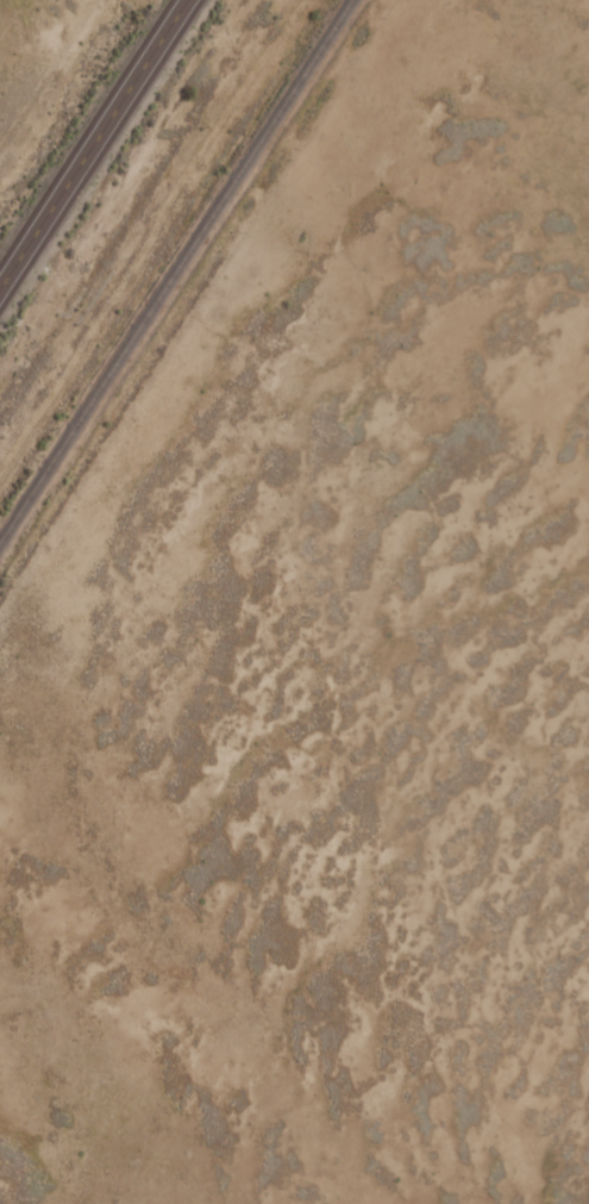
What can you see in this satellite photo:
road: (90, 139)
railway: (174, 268)

